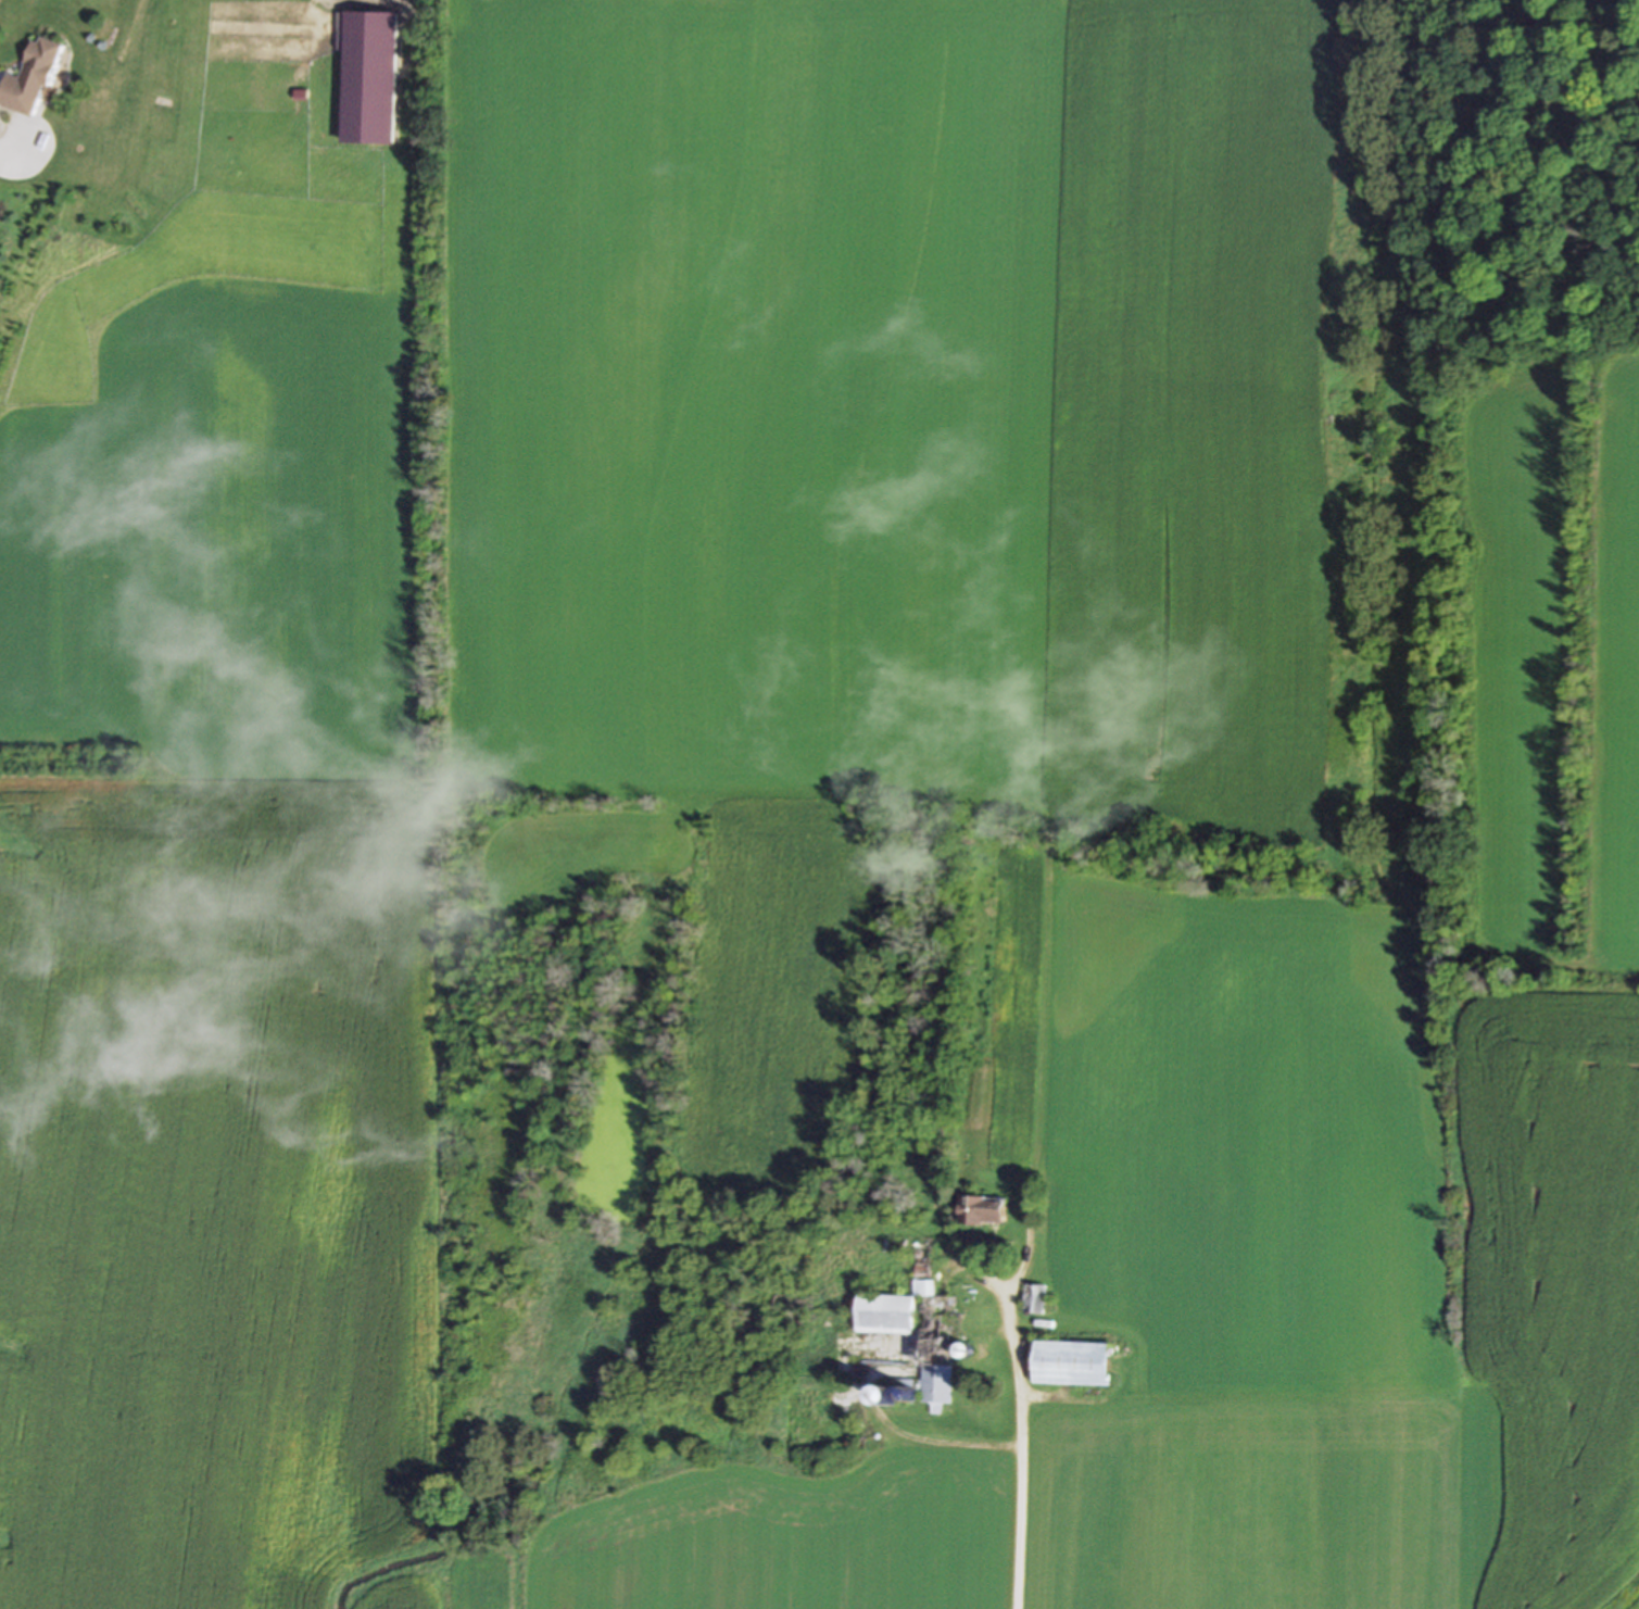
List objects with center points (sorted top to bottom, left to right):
building: (368, 79)
building: (28, 80)
road: (23, 173)
building: (981, 1211)
building: (1032, 1299)
building: (883, 1315)
building: (1069, 1365)
road: (942, 1444)
road: (1022, 1450)

